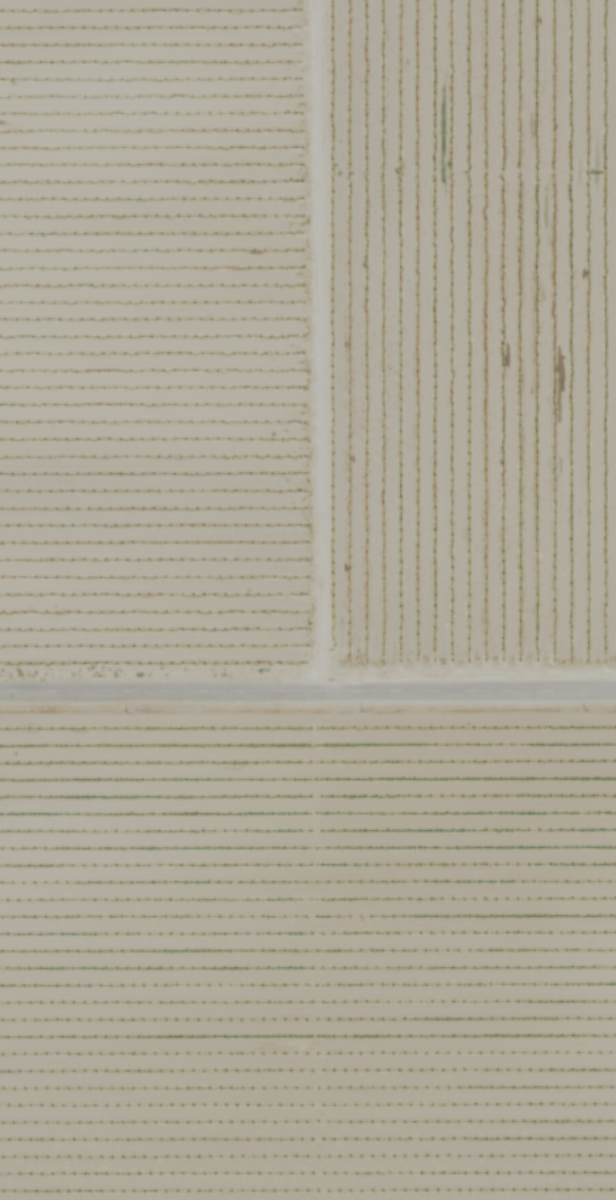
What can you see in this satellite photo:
road: (307, 695)

